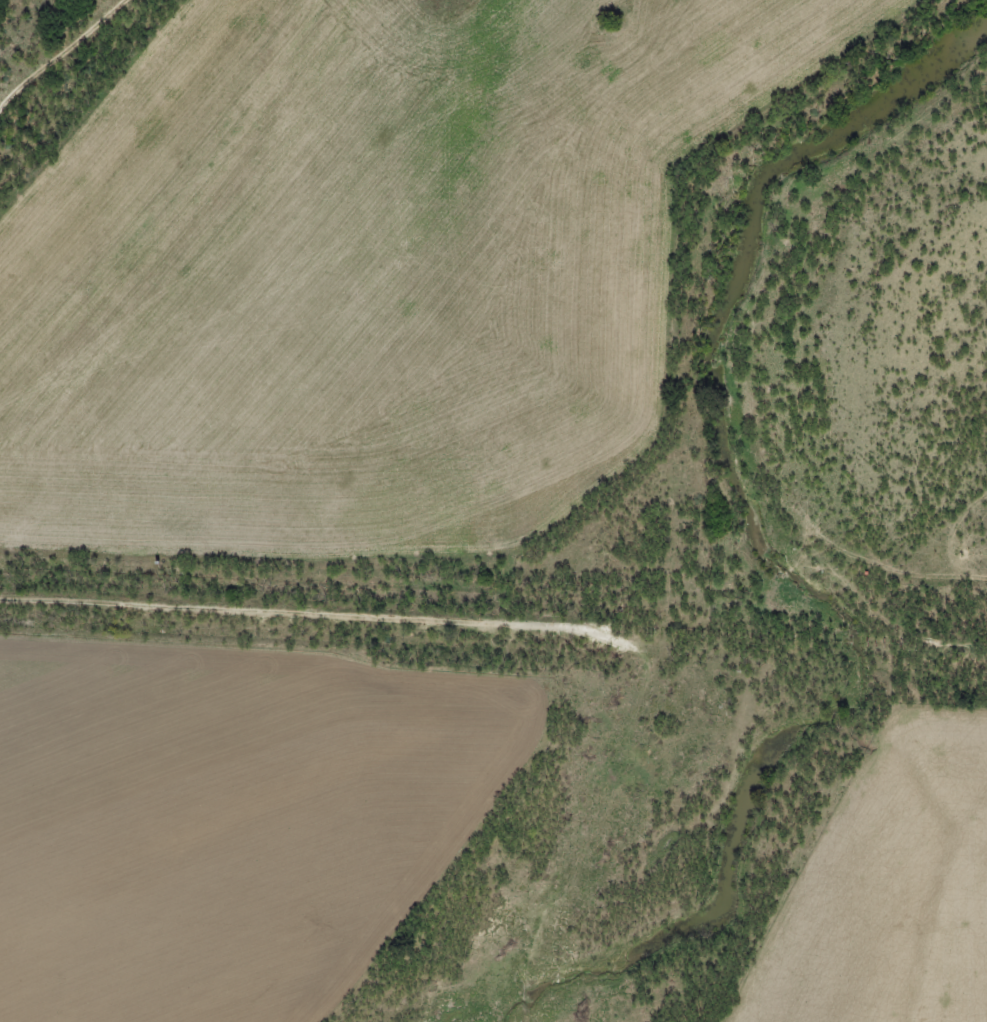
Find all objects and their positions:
road: (53, 55)
railway: (493, 620)

